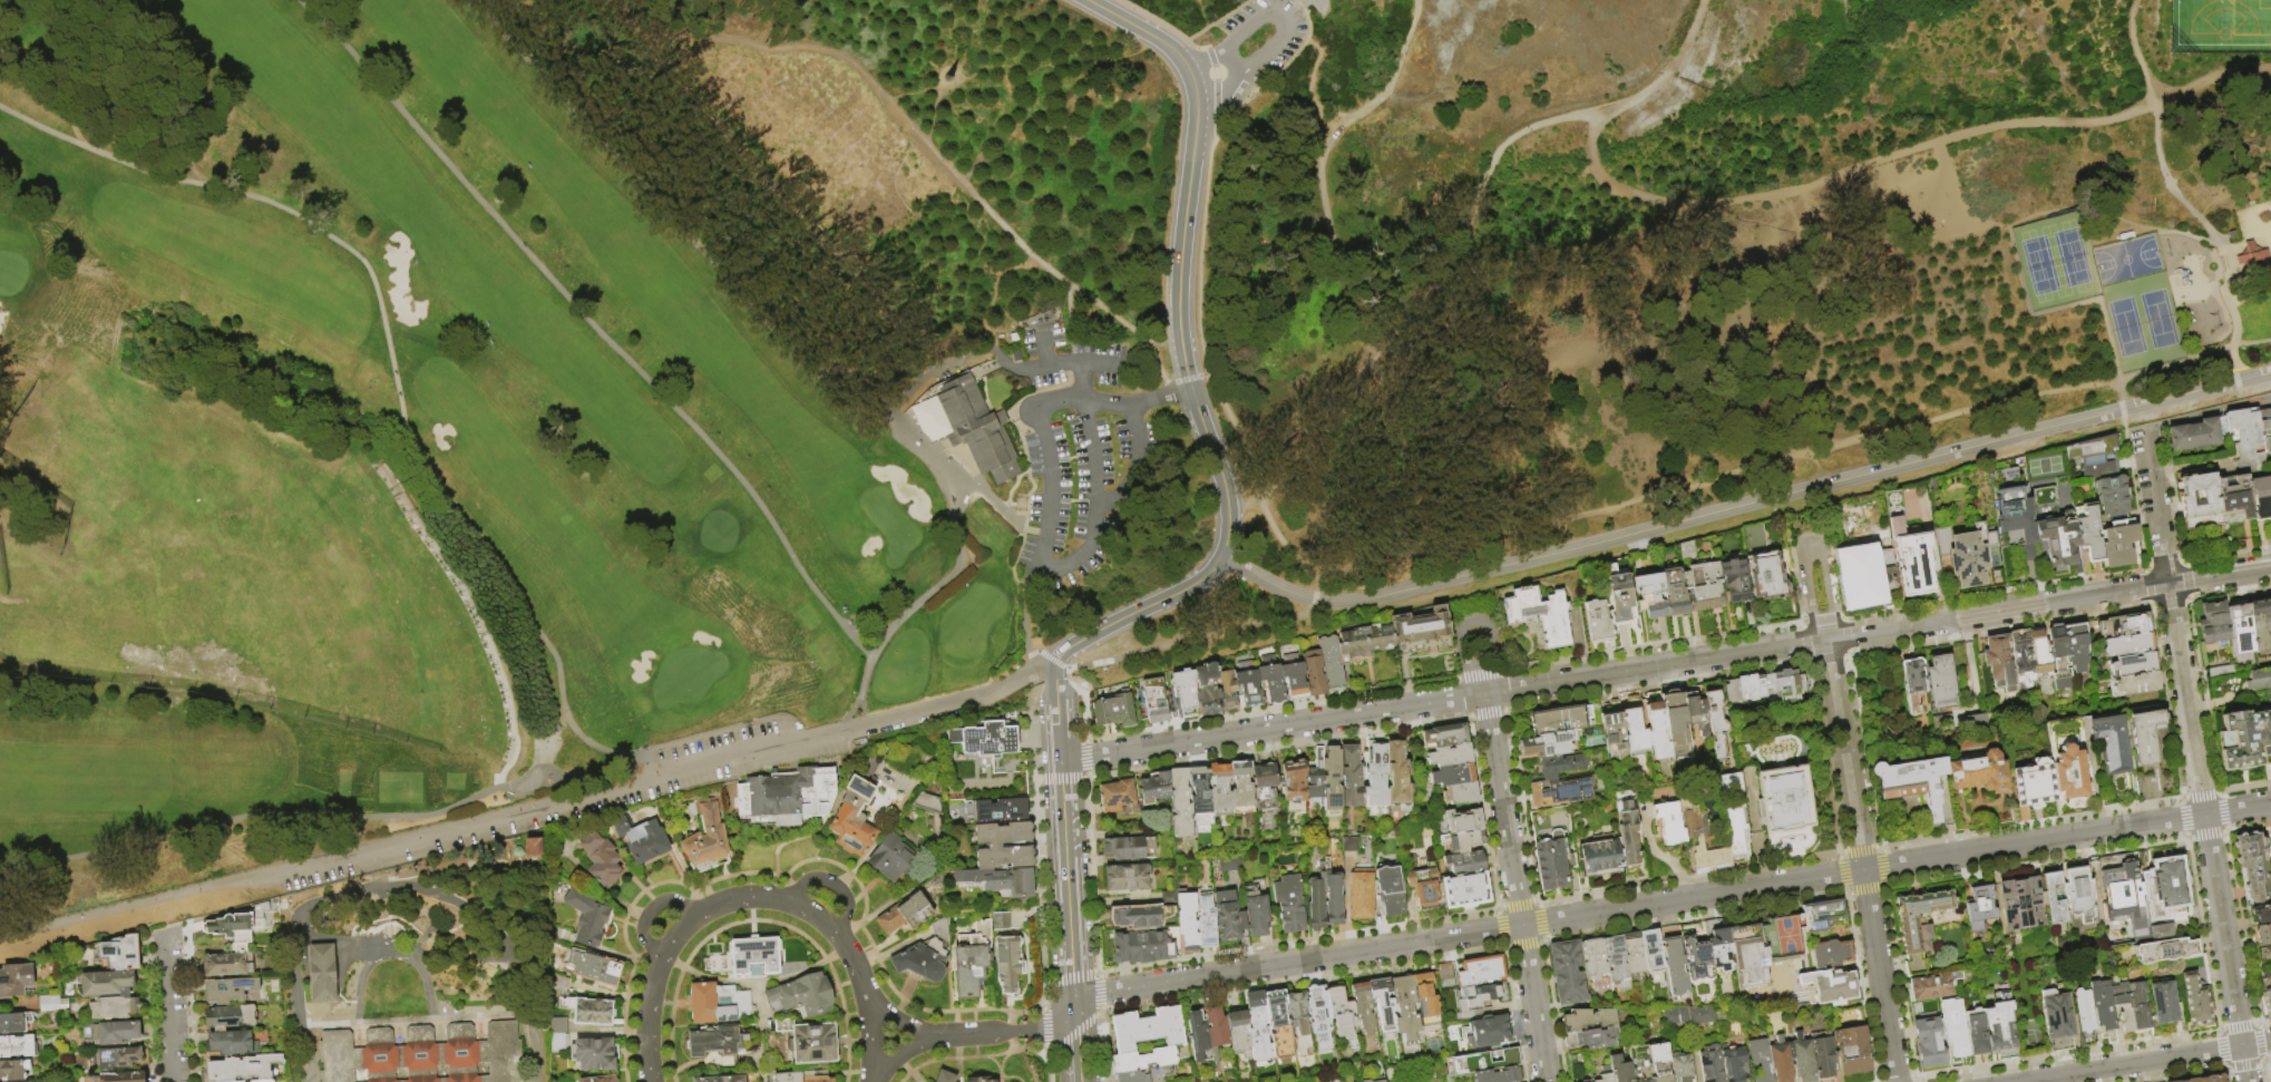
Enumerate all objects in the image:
road: (1280, 19)
park: (2220, 27)
road: (1139, 29)
parking lot: (1259, 45)
road: (2134, 51)
road: (1205, 56)
road: (1234, 58)
road: (1395, 66)
road: (1667, 72)
road: (1192, 85)
road: (2212, 85)
road: (1221, 90)
road: (1334, 110)
road: (932, 111)
road: (1319, 121)
road: (919, 137)
park: (2270, 140)
road: (2157, 148)
road: (1844, 172)
road: (1473, 212)
road: (1328, 231)
road: (682, 232)
road: (2190, 236)
road: (815, 237)
building: (2232, 238)
building: (2252, 259)
park: (2056, 261)
park: (2126, 261)
park: (9, 272)
road: (2225, 277)
road: (2093, 301)
road: (1066, 315)
park: (2258, 318)
park: (2143, 320)
road: (589, 324)
road: (1075, 354)
road: (958, 355)
park: (975, 359)
road: (1094, 364)
road: (1046, 365)
road: (1187, 380)
road: (1080, 382)
road: (1166, 390)
road: (2249, 402)
road: (1137, 404)
road: (1061, 408)
road: (1295, 413)
building: (929, 418)
road: (2184, 418)
road: (1230, 419)
building: (2264, 420)
road: (1203, 431)
building: (981, 432)
road: (1134, 433)
building: (2245, 433)
building: (2199, 435)
road: (407, 443)
building: (2089, 449)
building: (2269, 449)
road: (924, 454)
parking lot: (1081, 454)
road: (1793, 454)
park: (396, 455)
road: (1397, 464)
road: (1051, 490)
road: (1127, 493)
building: (2260, 496)
building: (2111, 497)
building: (2234, 497)
building: (2197, 500)
road: (1745, 505)
road: (1101, 507)
building: (2014, 521)
park: (888, 524)
road: (1274, 528)
building: (2085, 530)
building: (2009, 537)
building: (1755, 539)
building: (2056, 540)
building: (2117, 544)
road: (1811, 548)
road: (958, 555)
building: (1961, 556)
building: (1910, 561)
building: (1884, 569)
building: (1768, 577)
building: (1702, 581)
building: (1735, 581)
building: (1856, 581)
road: (1318, 582)
building: (1675, 592)
building: (1650, 595)
building: (1619, 596)
road: (1314, 602)
building: (1540, 614)
road: (1024, 616)
road: (1471, 621)
building: (1598, 622)
building: (2213, 624)
building: (2261, 624)
building: (2240, 625)
building: (2124, 626)
road: (1878, 631)
building: (1422, 632)
road: (484, 639)
road: (1181, 642)
building: (1364, 642)
building: (2128, 645)
building: (2076, 647)
road: (1040, 652)
building: (2039, 655)
building: (2058, 659)
building: (2021, 660)
building: (1999, 662)
building: (1331, 664)
building: (2132, 665)
road: (1055, 666)
building: (2220, 671)
building: (1313, 673)
building: (1293, 678)
building: (2260, 678)
building: (1270, 680)
building: (1941, 682)
building: (1787, 683)
building: (1247, 684)
building: (2135, 684)
building: (1916, 688)
building: (1207, 689)
building: (1183, 690)
building: (1226, 690)
building: (1745, 690)
building: (1153, 701)
building: (2269, 709)
road: (860, 711)
building: (1113, 711)
road: (846, 714)
road: (1056, 717)
building: (1696, 717)
building: (1675, 718)
building: (1566, 720)
building: (1716, 723)
road: (1271, 729)
building: (1615, 735)
building: (1649, 735)
building: (2144, 735)
building: (1444, 737)
building: (2243, 739)
building: (986, 741)
building: (2108, 743)
building: (1549, 744)
building: (1449, 756)
road: (2194, 756)
building: (2067, 761)
building: (1560, 766)
building: (1377, 773)
building: (1978, 773)
building: (1315, 774)
building: (1351, 776)
building: (1452, 776)
road: (653, 777)
building: (1398, 777)
building: (1332, 780)
road: (576, 781)
building: (1911, 782)
building: (2033, 784)
building: (1265, 786)
building: (1295, 786)
building: (2150, 786)
building: (1156, 787)
building: (1240, 787)
building: (1199, 791)
building: (1220, 791)
building: (1562, 792)
building: (1460, 793)
building: (788, 795)
building: (1117, 796)
building: (1784, 799)
building: (1180, 805)
building: (856, 809)
road: (248, 816)
building: (1734, 818)
building: (1460, 821)
building: (1668, 823)
building: (706, 834)
building: (1627, 834)
building: (642, 838)
building: (1462, 841)
building: (1702, 841)
building: (1347, 844)
building: (530, 846)
building: (1024, 846)
building: (1129, 848)
building: (1600, 854)
building: (890, 857)
building: (601, 858)
road: (1861, 860)
building: (1465, 862)
building: (1553, 862)
building: (2252, 868)
building: (1128, 878)
building: (1000, 879)
road: (831, 884)
building: (2167, 884)
building: (1426, 888)
road: (1514, 888)
building: (1465, 890)
building: (1390, 891)
building: (1361, 896)
building: (2048, 896)
building: (2078, 896)
road: (741, 898)
building: (1168, 898)
building: (1335, 900)
road: (1670, 901)
building: (1290, 904)
building: (2021, 904)
building: (2118, 904)
building: (1316, 905)
building: (1257, 907)
building: (1979, 907)
road: (124, 908)
road: (751, 909)
road: (650, 910)
building: (905, 913)
road: (163, 914)
road: (813, 914)
building: (2261, 914)
building: (587, 915)
building: (1822, 915)
building: (1140, 916)
building: (1001, 920)
building: (1188, 920)
building: (1206, 920)
building: (1229, 920)
road: (757, 922)
road: (1068, 922)
building: (238, 924)
building: (983, 927)
building: (1918, 927)
building: (2161, 933)
road: (678, 934)
building: (2263, 934)
building: (1141, 946)
building: (1718, 946)
building: (240, 948)
building: (1651, 948)
building: (2165, 951)
building: (121, 953)
road: (849, 953)
building: (1635, 953)
building: (1696, 953)
road: (390, 954)
building: (926, 954)
building: (1832, 954)
building: (2264, 954)
road: (836, 955)
building: (754, 957)
building: (1748, 958)
road: (672, 962)
building: (1675, 962)
building: (1007, 963)
building: (1617, 963)
building: (969, 964)
building: (225, 965)
building: (1597, 965)
building: (596, 967)
building: (1480, 971)
building: (321, 973)
building: (1568, 973)
building: (16, 979)
building: (2265, 979)
road: (848, 982)
building: (107, 983)
building: (1932, 986)
building: (1832, 987)
building: (228, 991)
building: (1431, 992)
building: (801, 995)
building: (1476, 1000)
building: (2194, 1001)
building: (702, 1002)
building: (730, 1002)
building: (1383, 1003)
building: (2121, 1003)
building: (2162, 1003)
building: (2267, 1003)
building: (52, 1004)
road: (169, 1005)
building: (2101, 1005)
building: (2137, 1006)
building: (114, 1007)
building: (1363, 1007)
building: (1406, 1008)
building: (594, 1010)
building: (1318, 1011)
building: (2083, 1011)
building: (1685, 1014)
road: (890, 1016)
building: (1343, 1016)
road: (647, 1017)
building: (2056, 1017)
building: (230, 1018)
road: (417, 1020)
road: (1061, 1020)
building: (1589, 1020)
building: (14, 1022)
building: (1299, 1023)
building: (558, 1024)
building: (1259, 1026)
building: (1279, 1026)
building: (1998, 1026)
building: (1953, 1029)
road: (870, 1030)
building: (1147, 1030)
building: (1238, 1030)
road: (1034, 1031)
building: (1216, 1031)
building: (111, 1032)
building: (1487, 1032)
building: (1976, 1032)
road: (979, 1034)
building: (1198, 1036)
building: (1593, 1039)
building: (717, 1040)
building: (557, 1041)
building: (815, 1042)
building: (1928, 1043)
building: (233, 1044)
building: (17, 1046)
building: (1853, 1051)
road: (310, 1053)
building: (593, 1053)
road: (901, 1053)
building: (422, 1055)
building: (1823, 1056)
building: (118, 1057)
building: (1761, 1059)
building: (1803, 1059)
building: (1144, 1060)
road: (2146, 1061)
building: (1481, 1062)
building: (1660, 1062)
building: (1781, 1062)
building: (1640, 1063)
building: (1710, 1064)
building: (1734, 1065)
building: (1682, 1066)
building: (13, 1069)
building: (243, 1069)
building: (305, 1069)
building: (1619, 1069)
building: (2270, 1070)
building: (1148, 1074)
building: (1605, 1074)
building: (1498, 1075)
building: (801, 1076)
building: (945, 1076)
building: (116, 1078)
building: (720, 1078)
building: (598, 1079)
building: (979, 1079)
building: (2203, 1079)
building: (263, 1081)
building: (1366, 1081)
building: (1380, 1081)
building: (1587, 1081)

